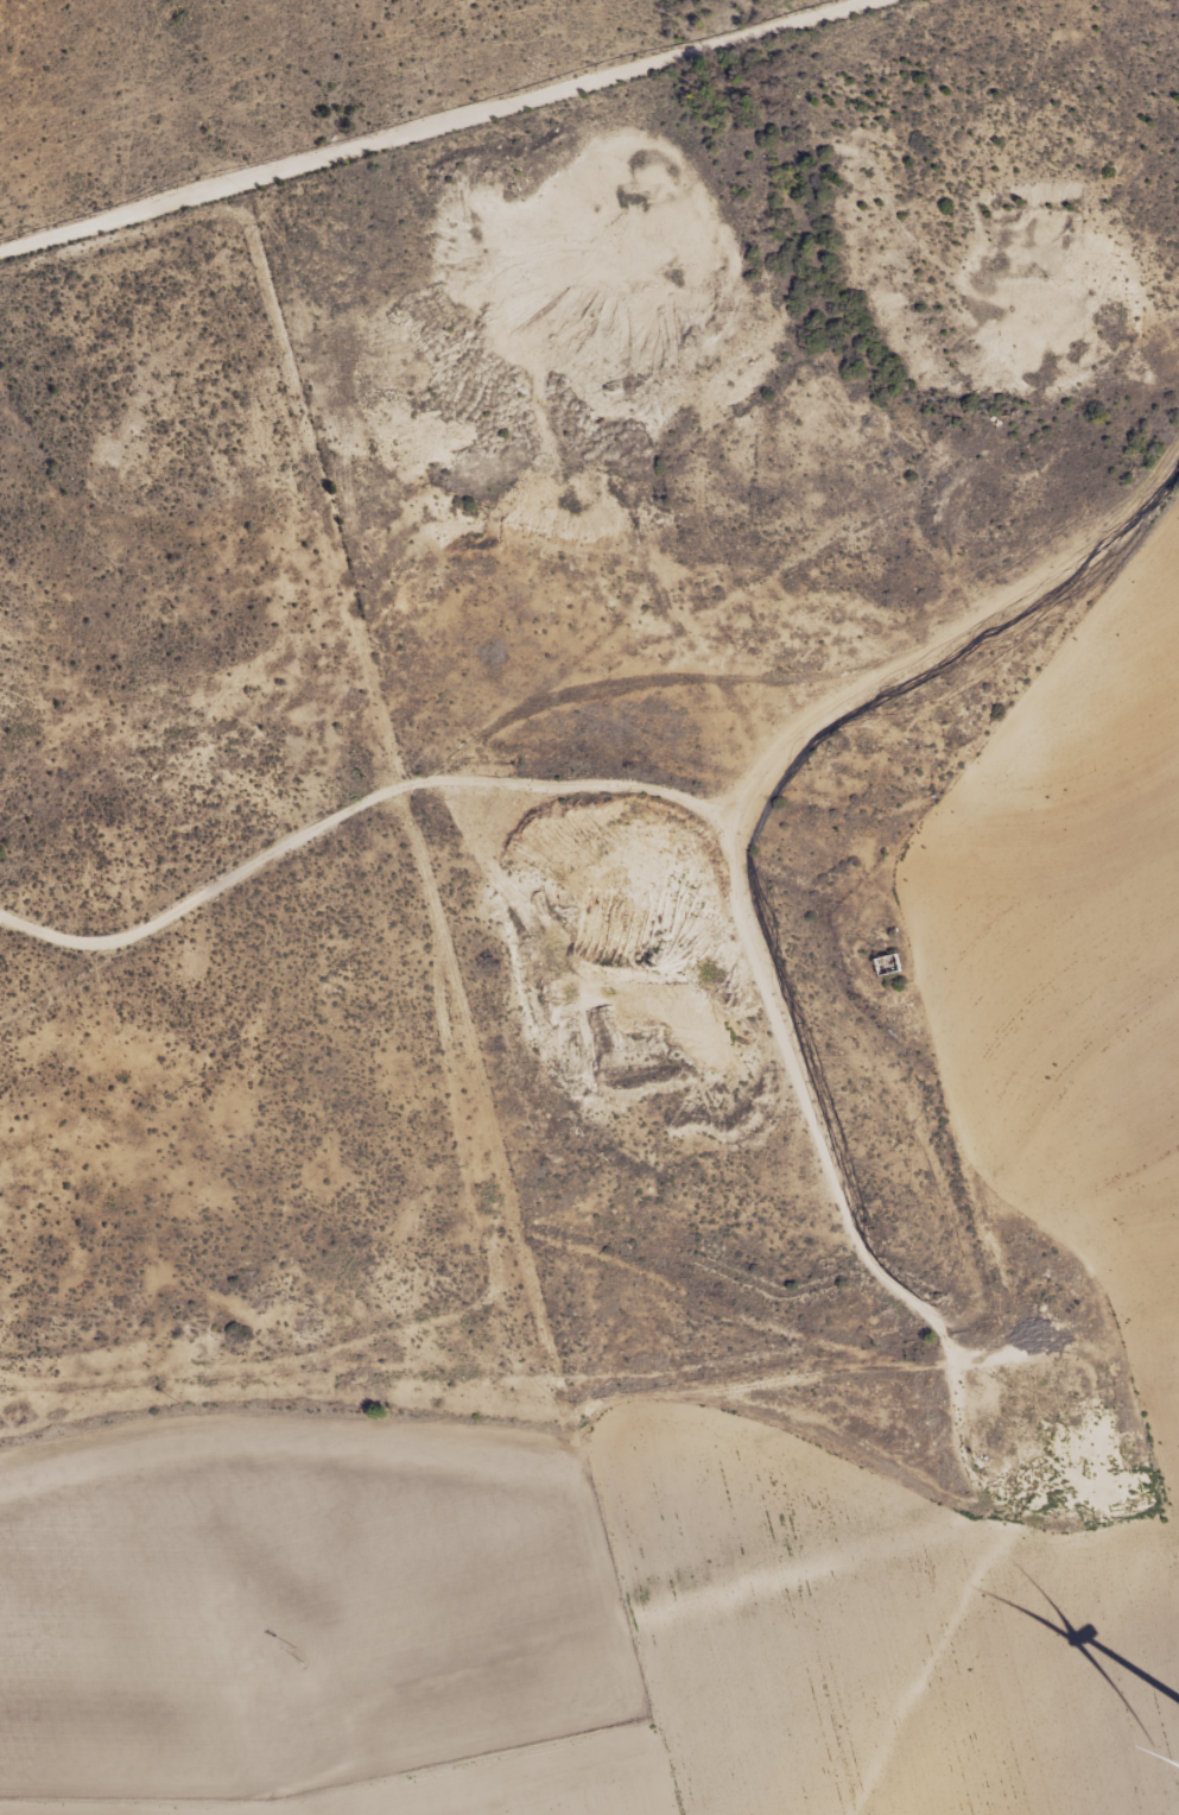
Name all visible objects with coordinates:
building: (887, 963)
building: (900, 1710)

